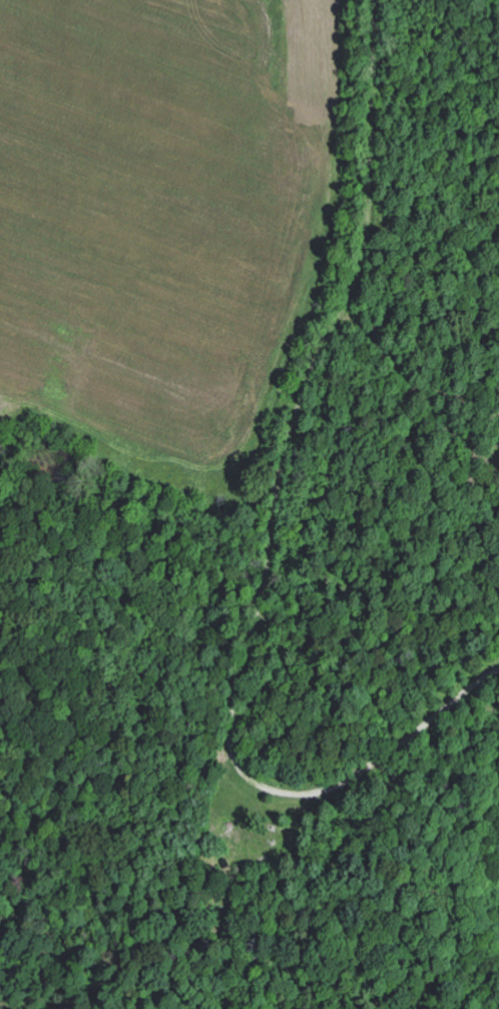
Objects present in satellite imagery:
road: (470, 695)

